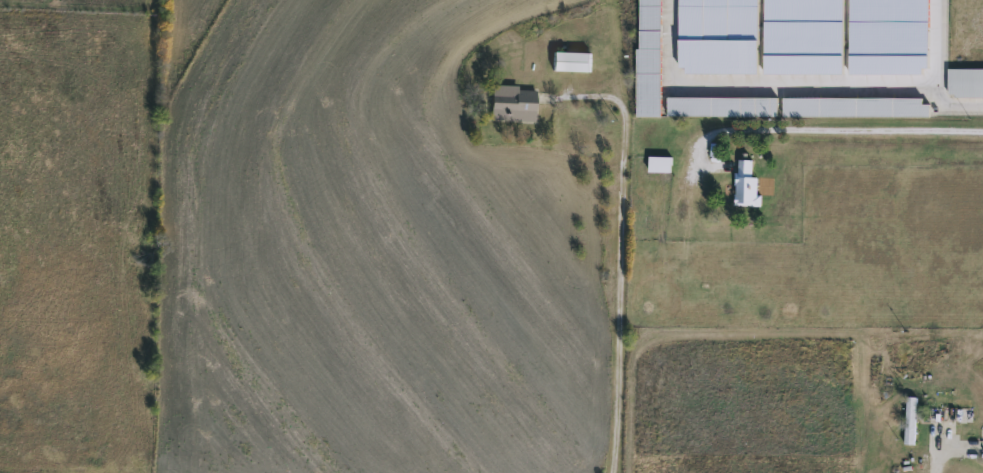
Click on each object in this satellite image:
building: (648, 57)
building: (569, 60)
road: (611, 76)
building: (965, 82)
building: (510, 102)
building: (720, 106)
building: (854, 106)
road: (803, 121)
road: (709, 159)
building: (658, 163)
building: (745, 183)
road: (619, 246)
building: (962, 414)
building: (909, 419)
building: (980, 440)
road: (945, 446)

